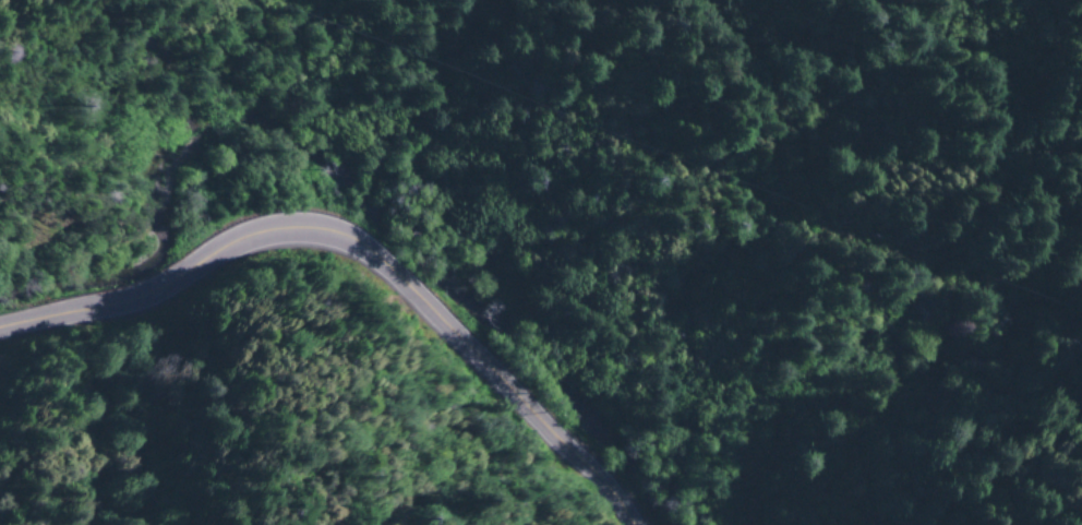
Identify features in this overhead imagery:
road: (1067, 11)
road: (835, 90)
road: (360, 250)

